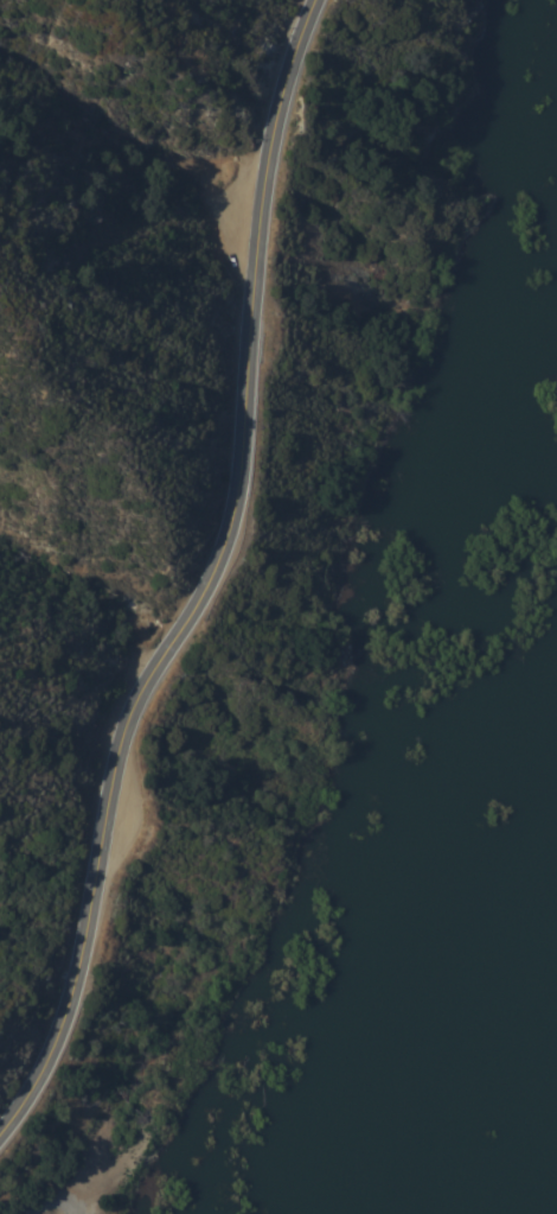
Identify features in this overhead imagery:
road: (209, 583)

